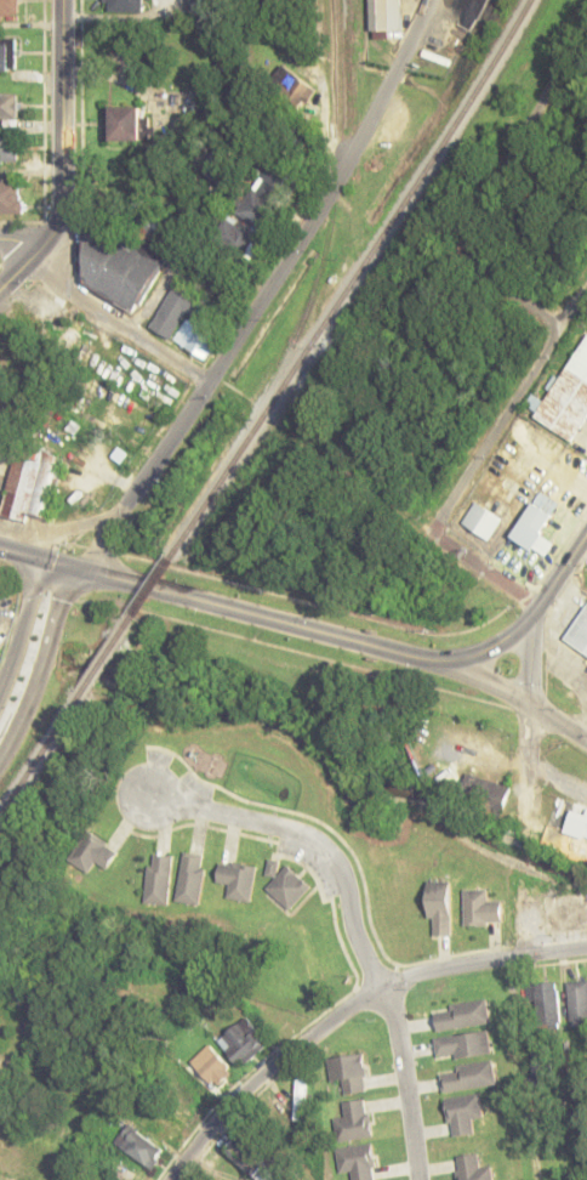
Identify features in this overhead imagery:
building: (122, 5)
building: (8, 7)
building: (382, 17)
road: (412, 35)
building: (7, 55)
building: (290, 86)
building: (8, 106)
building: (126, 123)
road: (59, 137)
building: (7, 149)
road: (496, 189)
building: (266, 192)
building: (10, 198)
building: (236, 239)
road: (12, 256)
building: (119, 267)
road: (12, 278)
railway: (353, 279)
road: (261, 301)
building: (189, 320)
road: (116, 324)
building: (566, 398)
road: (473, 459)
building: (30, 483)
building: (481, 520)
building: (536, 523)
road: (67, 529)
road: (96, 545)
road: (21, 552)
traffic signals: (41, 558)
traffic signals: (82, 569)
road: (559, 574)
railway: (150, 589)
road: (292, 624)
road: (23, 625)
road: (4, 630)
railway: (122, 632)
building: (580, 632)
road: (42, 664)
railway: (97, 670)
road: (520, 697)
road: (528, 719)
railway: (39, 756)
building: (483, 795)
building: (91, 851)
building: (156, 878)
building: (189, 878)
building: (235, 879)
building: (283, 883)
building: (438, 907)
building: (479, 907)
building: (565, 912)
road: (353, 925)
road: (483, 961)
road: (40, 1002)
building: (576, 1002)
building: (543, 1005)
building: (462, 1014)
building: (2, 1025)
building: (241, 1040)
building: (462, 1044)
building: (211, 1065)
road: (263, 1071)
building: (347, 1071)
building: (467, 1076)
building: (187, 1094)
building: (300, 1097)
building: (461, 1112)
building: (352, 1121)
building: (139, 1146)
road: (531, 1150)
building: (244, 1153)
building: (355, 1161)
building: (471, 1168)
building: (264, 1175)

